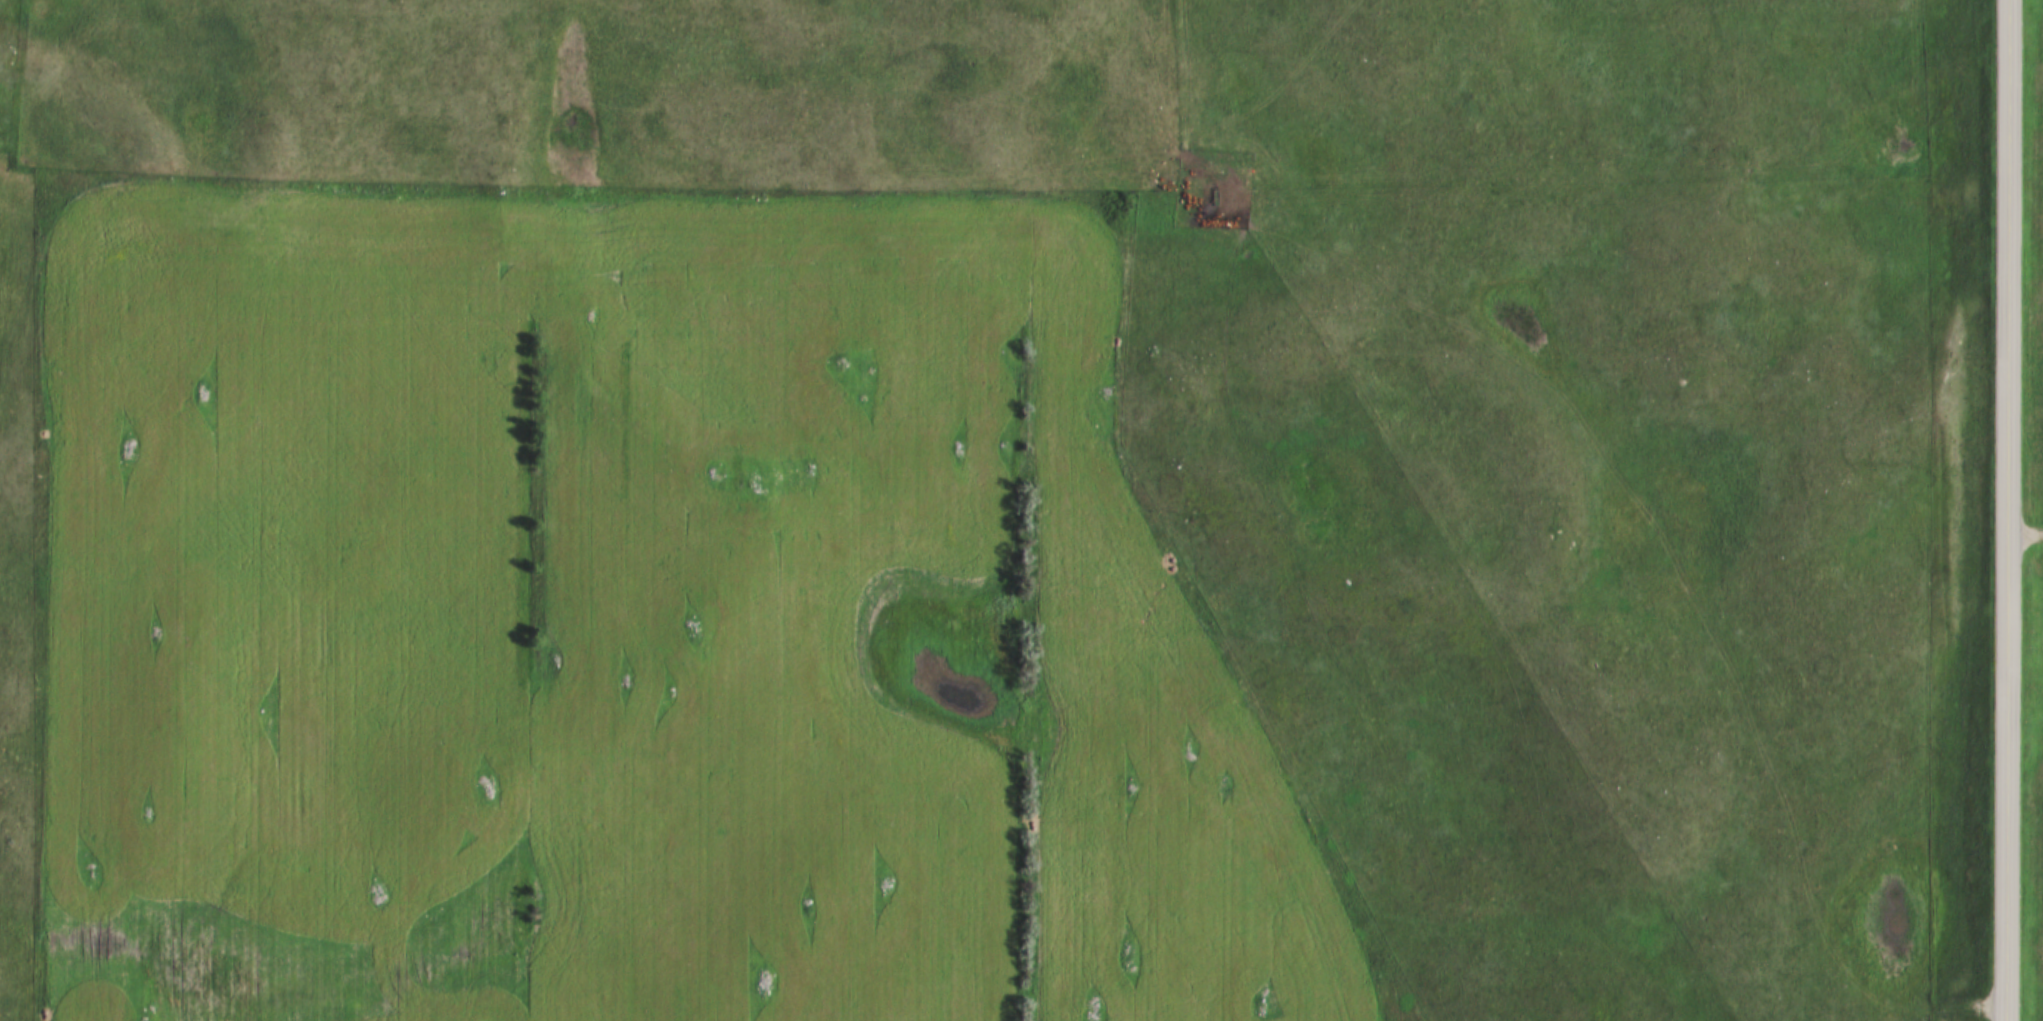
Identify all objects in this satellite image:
road: (2008, 510)

